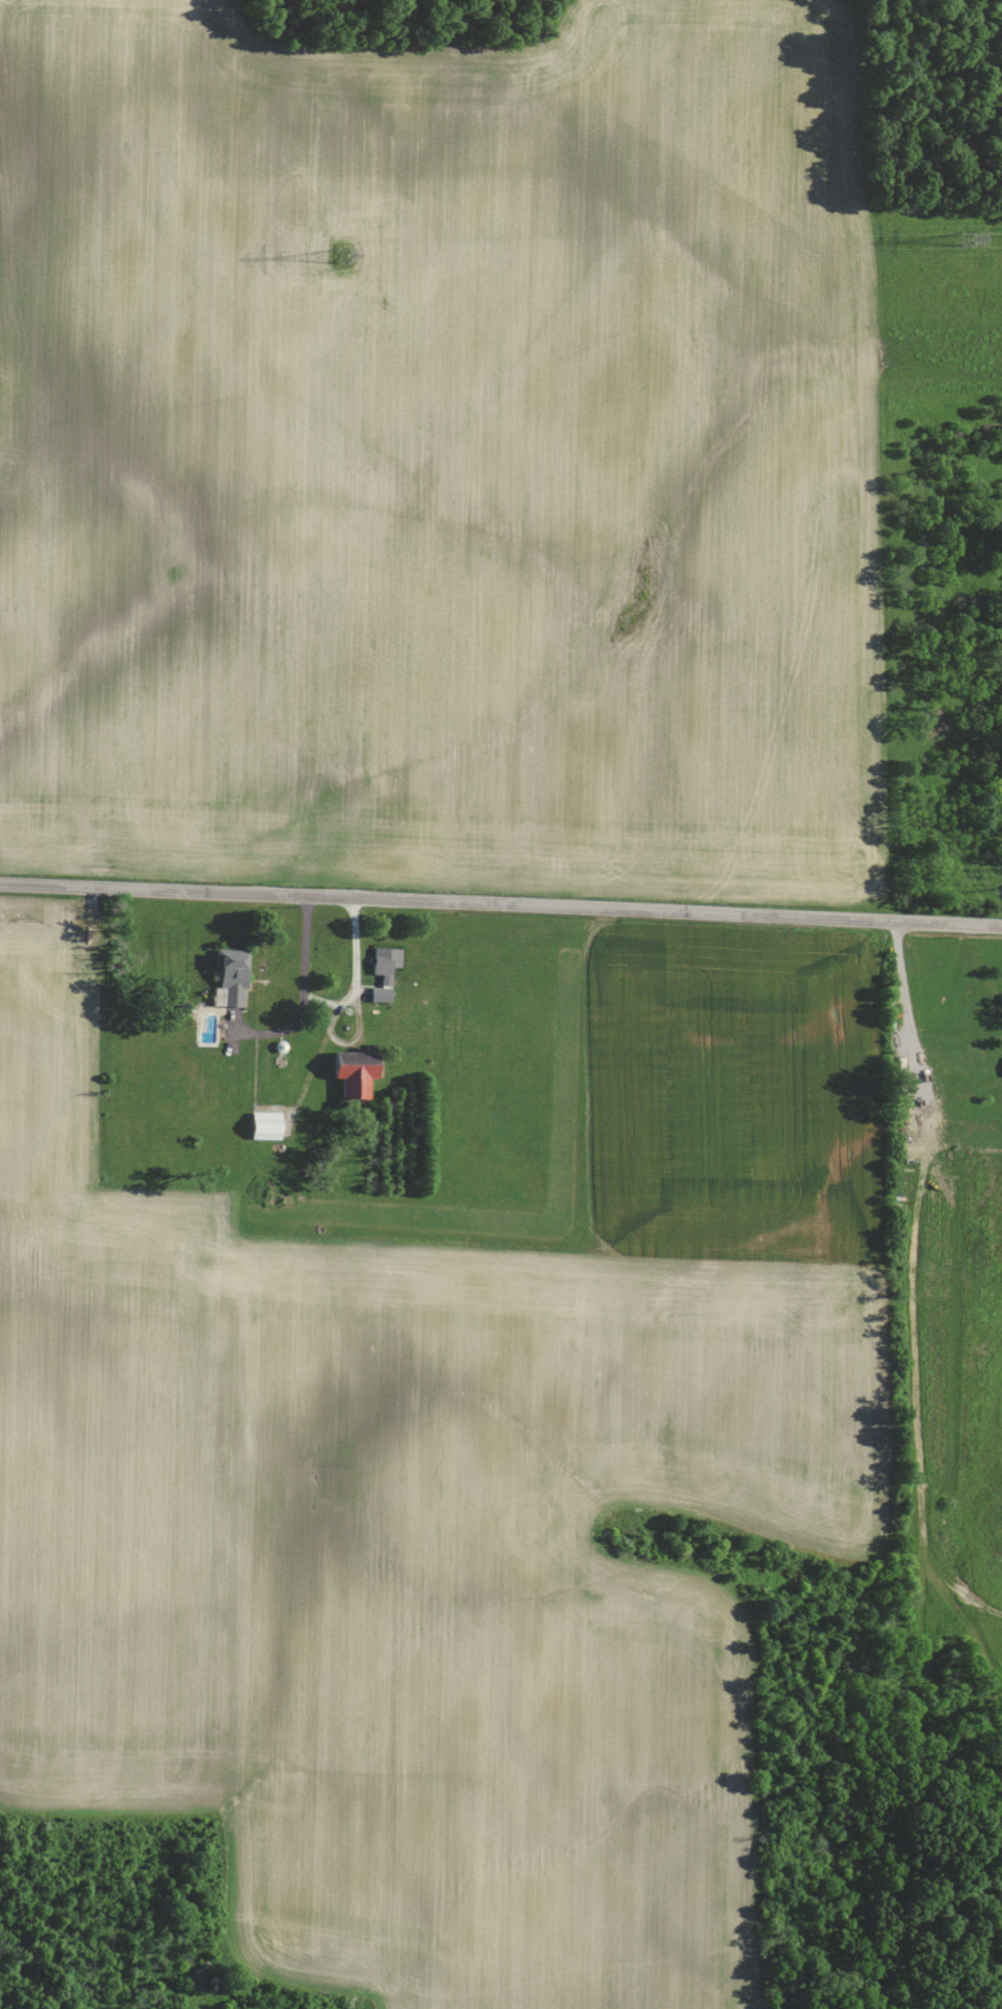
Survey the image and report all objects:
road: (500, 904)
building: (383, 973)
road: (356, 974)
building: (229, 977)
road: (303, 995)
building: (354, 1071)

